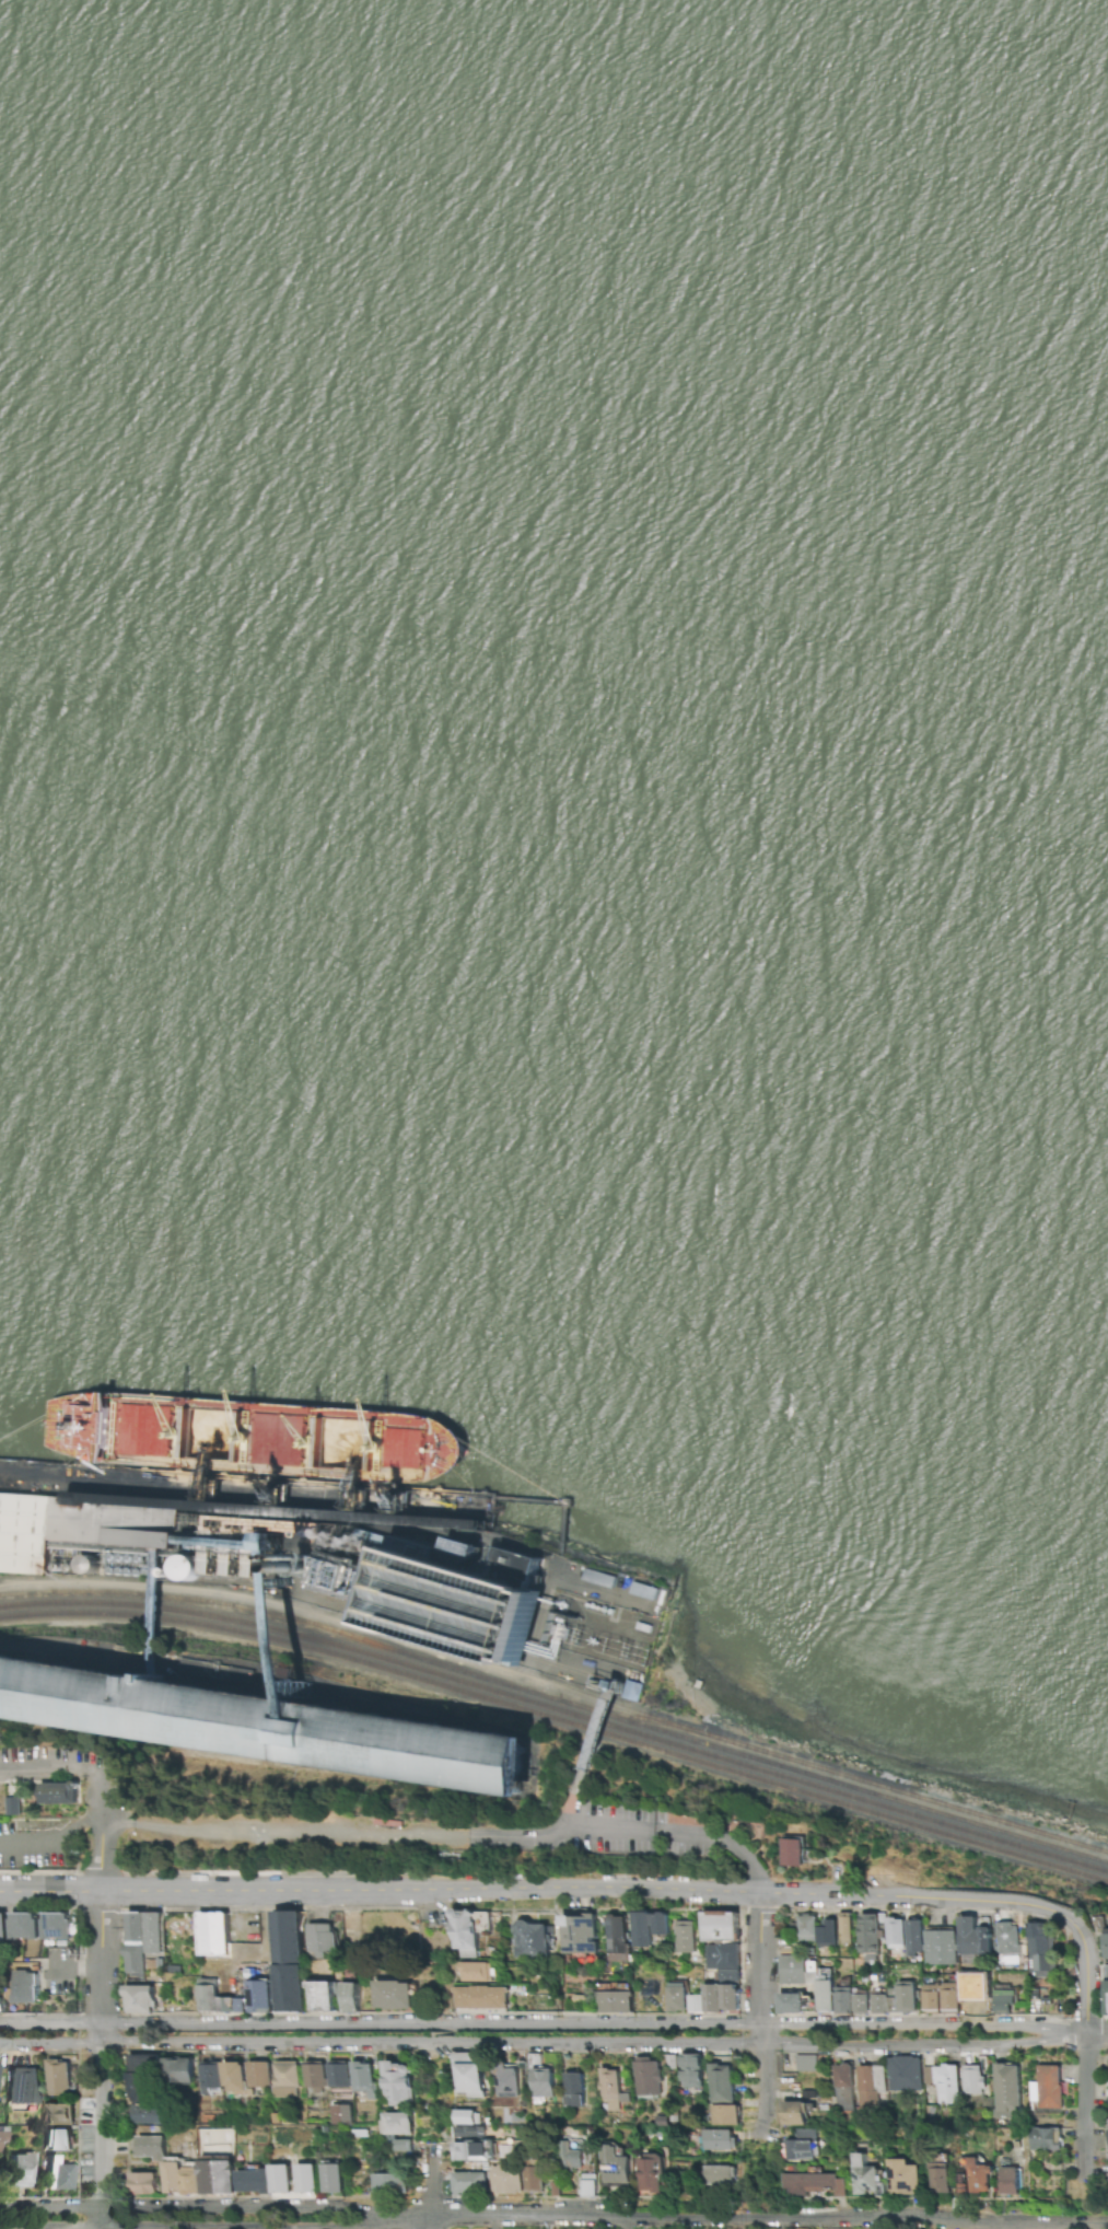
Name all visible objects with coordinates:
building: (26, 1533)
chimney: (319, 1569)
building: (464, 1599)
power plant: (483, 1601)
railway: (298, 1624)
power substation: (597, 1630)
railway: (558, 1709)
railway: (559, 1719)
building: (261, 1720)
railway: (649, 1720)
road: (598, 1730)
road: (51, 1769)
railway: (847, 1786)
building: (58, 1792)
railway: (908, 1793)
road: (571, 1797)
building: (12, 1806)
road: (394, 1835)
road: (67, 1837)
road: (723, 1839)
building: (791, 1850)
road: (550, 1893)
building: (21, 1926)
building: (720, 1926)
building: (646, 1927)
building: (844, 1928)
building: (2, 1930)
building: (467, 1930)
building: (816, 1930)
building: (895, 1932)
building: (213, 1934)
building: (579, 1934)
building: (867, 1936)
building: (684, 1937)
building: (913, 1937)
building: (616, 1938)
building: (973, 1938)
building: (1007, 1938)
building: (320, 1939)
building: (142, 1940)
building: (530, 1940)
building: (1105, 1943)
building: (940, 1947)
building: (1040, 1950)
building: (289, 1960)
building: (722, 1960)
road: (75, 1966)
building: (796, 1970)
building: (475, 1972)
building: (25, 1986)
road: (1085, 1988)
building: (1106, 1989)
building: (824, 1990)
building: (259, 1996)
building: (395, 1996)
building: (676, 1997)
road: (102, 1998)
building: (215, 1998)
building: (940, 1998)
building: (140, 1999)
building: (325, 1999)
building: (485, 1999)
building: (714, 1999)
building: (895, 1999)
building: (353, 2000)
building: (842, 2000)
building: (614, 2001)
building: (860, 2001)
building: (1003, 2001)
building: (791, 2002)
road: (761, 2016)
road: (543, 2019)
road: (1096, 2035)
road: (543, 2045)
building: (805, 2063)
building: (179, 2070)
building: (690, 2070)
building: (211, 2074)
building: (258, 2074)
building: (905, 2074)
building: (341, 2076)
building: (646, 2076)
building: (234, 2077)
building: (317, 2077)
building: (57, 2078)
building: (142, 2078)
building: (285, 2078)
building: (364, 2078)
building: (972, 2079)
building: (505, 2080)
building: (398, 2082)
building: (474, 2082)
building: (720, 2083)
building: (868, 2085)
building: (946, 2085)
building: (22, 2086)
building: (1047, 2087)
building: (610, 2088)
building: (842, 2088)
building: (572, 2089)
building: (1006, 2090)
road: (1084, 2106)
building: (795, 2112)
building: (58, 2114)
building: (151, 2114)
building: (340, 2114)
building: (723, 2114)
building: (469, 2120)
building: (399, 2126)
building: (1045, 2138)
building: (1, 2139)
building: (56, 2139)
building: (716, 2139)
building: (1107, 2139)
building: (471, 2144)
building: (403, 2145)
building: (801, 2145)
building: (150, 2147)
building: (569, 2157)
building: (614, 2167)
building: (19, 2170)
building: (650, 2173)
building: (56, 2174)
building: (718, 2175)
building: (217, 2176)
building: (331, 2176)
building: (180, 2178)
building: (304, 2178)
building: (865, 2178)
building: (903, 2178)
building: (938, 2178)
building: (279, 2179)
building: (534, 2179)
building: (975, 2179)
building: (506, 2180)
building: (253, 2181)
building: (1007, 2181)
building: (141, 2183)
building: (388, 2183)
building: (469, 2183)
building: (814, 2184)
road: (431, 2185)
building: (587, 2185)
road: (430, 2219)
road: (769, 2219)
road: (301, 2227)

